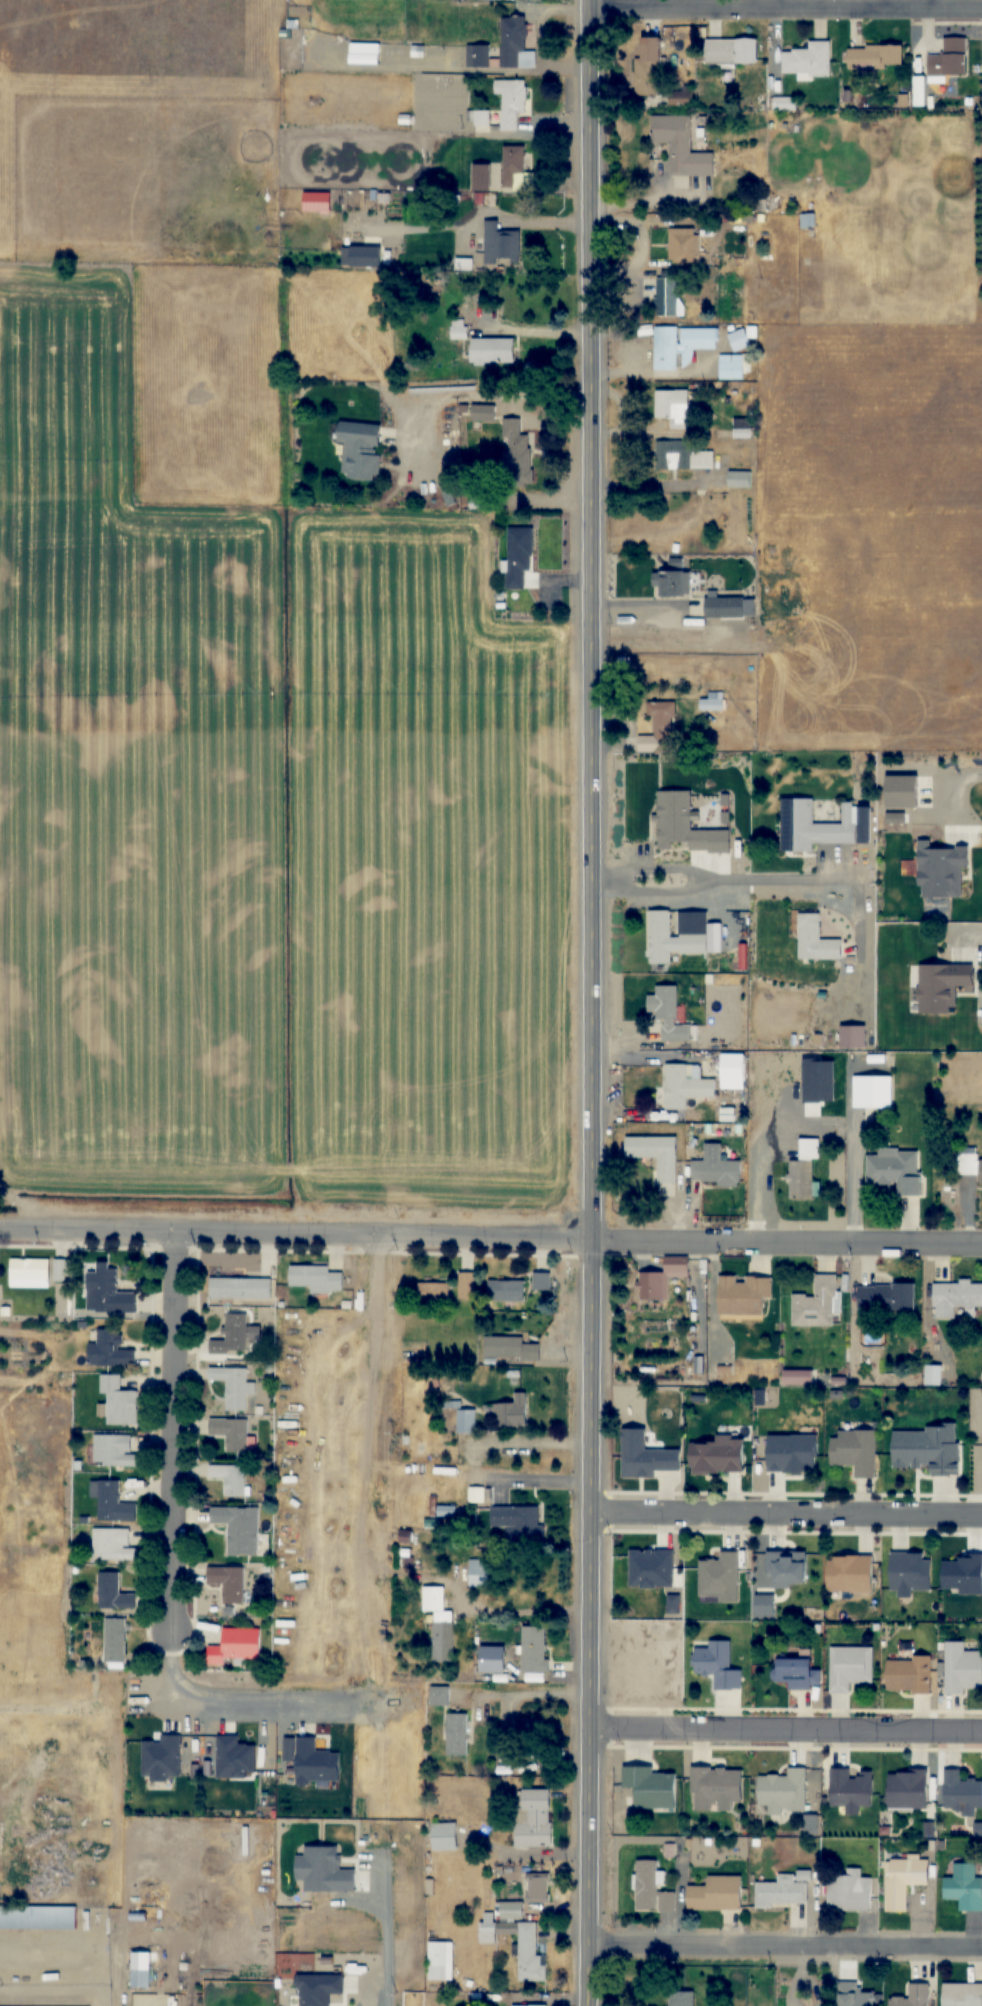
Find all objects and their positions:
road: (777, 5)
building: (512, 46)
building: (731, 52)
building: (364, 53)
building: (877, 57)
building: (950, 58)
building: (650, 61)
building: (809, 61)
building: (511, 102)
building: (681, 147)
building: (516, 171)
building: (476, 180)
building: (808, 221)
building: (501, 244)
building: (684, 246)
building: (667, 297)
building: (739, 341)
building: (679, 348)
building: (492, 351)
building: (731, 367)
building: (673, 408)
building: (483, 413)
building: (743, 428)
building: (516, 448)
building: (361, 450)
building: (684, 456)
building: (740, 479)
crop: (862, 542)
building: (518, 557)
building: (672, 584)
building: (724, 608)
crop: (236, 696)
building: (713, 702)
building: (659, 729)
road: (952, 785)
building: (814, 826)
building: (942, 870)
road: (784, 885)
road: (635, 894)
building: (659, 937)
building: (816, 940)
building: (693, 944)
building: (940, 986)
road: (575, 1003)
building: (668, 1013)
building: (853, 1036)
road: (635, 1061)
building: (733, 1071)
building: (685, 1086)
building: (872, 1091)
building: (803, 1107)
building: (656, 1154)
building: (969, 1162)
building: (715, 1168)
building: (804, 1170)
building: (896, 1170)
road: (837, 1181)
road: (286, 1236)
road: (777, 1246)
building: (30, 1269)
building: (59, 1270)
building: (316, 1278)
building: (541, 1281)
building: (466, 1285)
building: (652, 1286)
building: (240, 1288)
building: (108, 1291)
building: (506, 1291)
building: (434, 1292)
building: (743, 1296)
building: (886, 1297)
building: (955, 1298)
building: (816, 1304)
building: (232, 1336)
building: (510, 1349)
building: (111, 1350)
building: (798, 1377)
building: (233, 1386)
building: (119, 1402)
building: (512, 1412)
building: (466, 1421)
road: (156, 1433)
building: (231, 1433)
building: (928, 1448)
building: (114, 1451)
building: (855, 1451)
building: (792, 1453)
building: (645, 1456)
building: (718, 1456)
building: (230, 1478)
building: (111, 1501)
road: (778, 1518)
building: (519, 1523)
building: (240, 1528)
building: (113, 1544)
building: (787, 1568)
building: (479, 1573)
building: (910, 1573)
building: (850, 1574)
building: (720, 1578)
building: (229, 1582)
building: (114, 1592)
building: (440, 1625)
building: (115, 1641)
building: (224, 1647)
building: (534, 1649)
building: (199, 1658)
building: (718, 1665)
building: (850, 1667)
building: (962, 1668)
building: (793, 1673)
building: (909, 1675)
building: (440, 1696)
road: (225, 1709)
road: (787, 1731)
building: (457, 1734)
building: (651, 1787)
building: (715, 1787)
building: (906, 1789)
building: (851, 1790)
building: (784, 1792)
building: (961, 1793)
building: (534, 1820)
building: (444, 1836)
building: (903, 1881)
building: (964, 1887)
building: (537, 1889)
building: (651, 1889)
building: (849, 1891)
building: (782, 1892)
building: (716, 1894)
building: (510, 1911)
building: (37, 1917)
road: (784, 1947)
building: (527, 1949)
building: (440, 1961)
building: (147, 1982)
building: (256, 1987)
road: (349, 1988)
building: (962, 1994)
building: (854, 1995)
building: (913, 1996)
building: (681, 1998)
building: (529, 2005)

